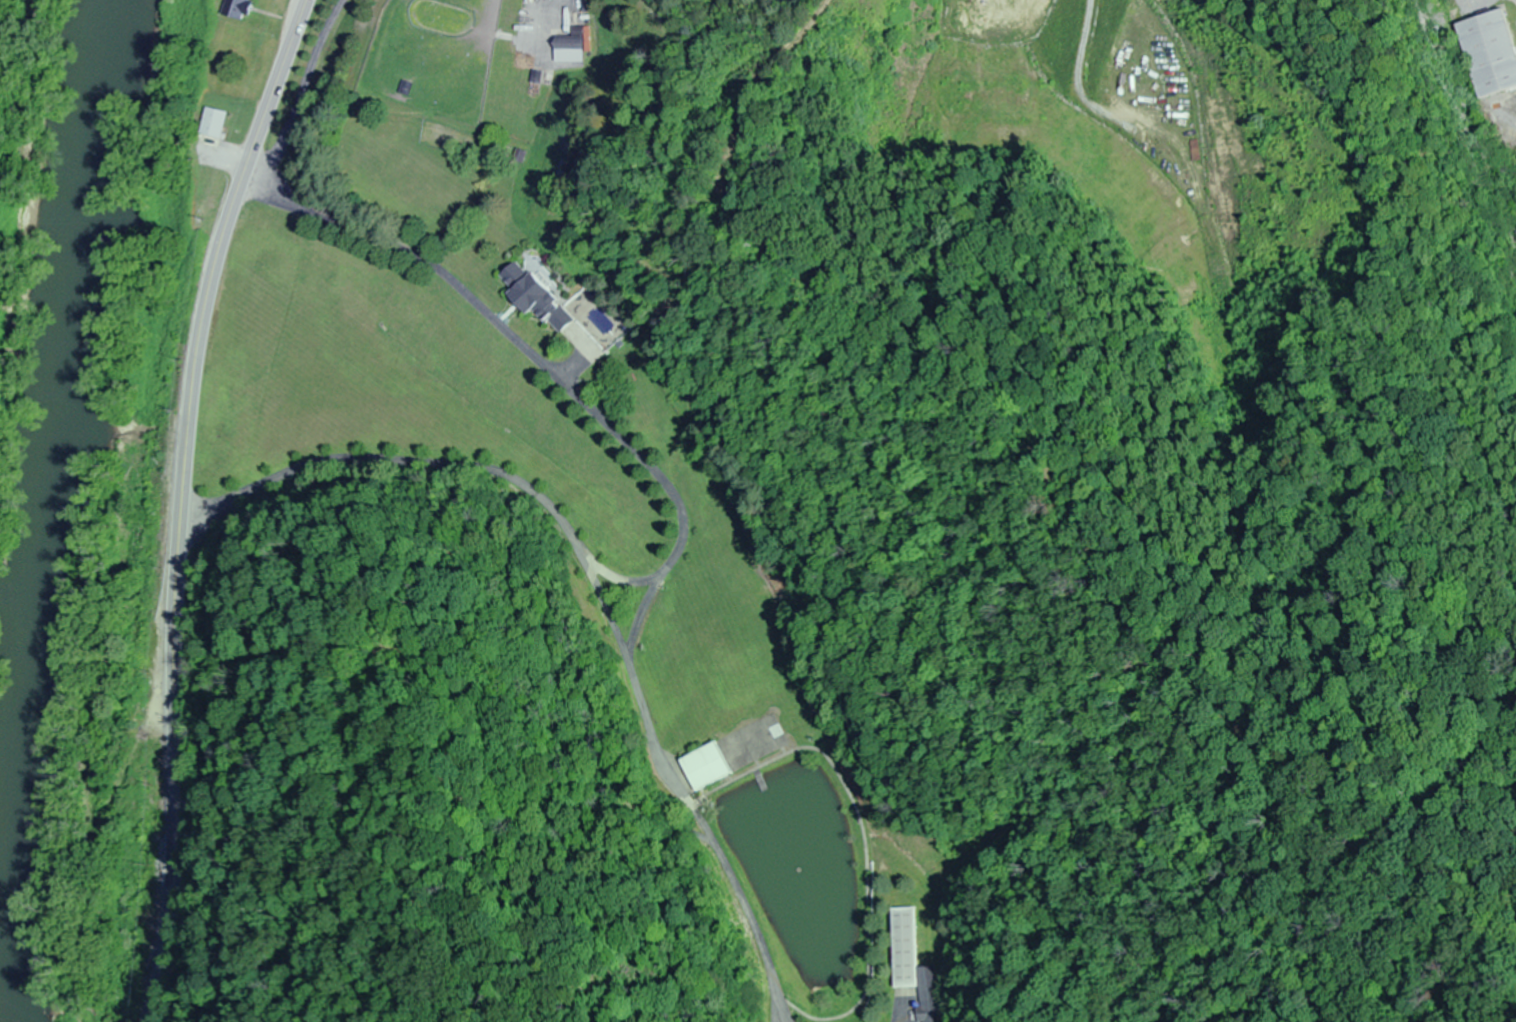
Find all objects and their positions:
building: (233, 9)
road: (570, 12)
building: (566, 52)
building: (1485, 54)
road: (301, 90)
building: (211, 128)
building: (518, 157)
building: (531, 297)
river: (44, 455)
road: (181, 502)
road: (685, 535)
building: (705, 767)
building: (914, 965)

